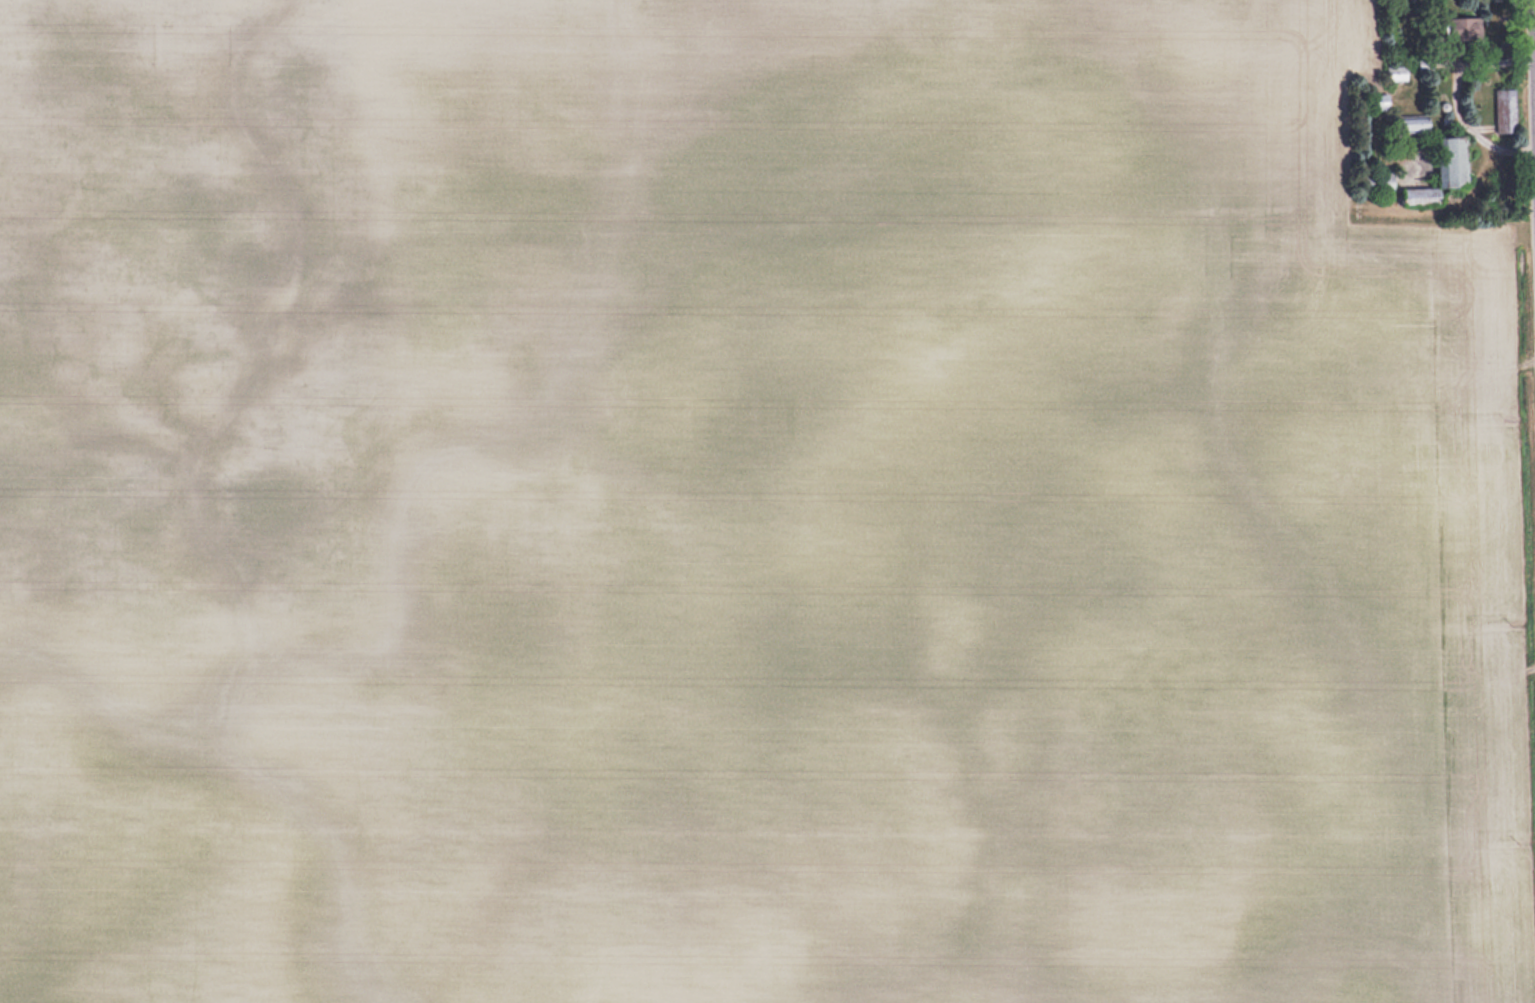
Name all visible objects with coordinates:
building: (1465, 28)
building: (1396, 72)
building: (1380, 101)
building: (1505, 110)
building: (1410, 123)
building: (1453, 161)
building: (1376, 180)
building: (1418, 195)

